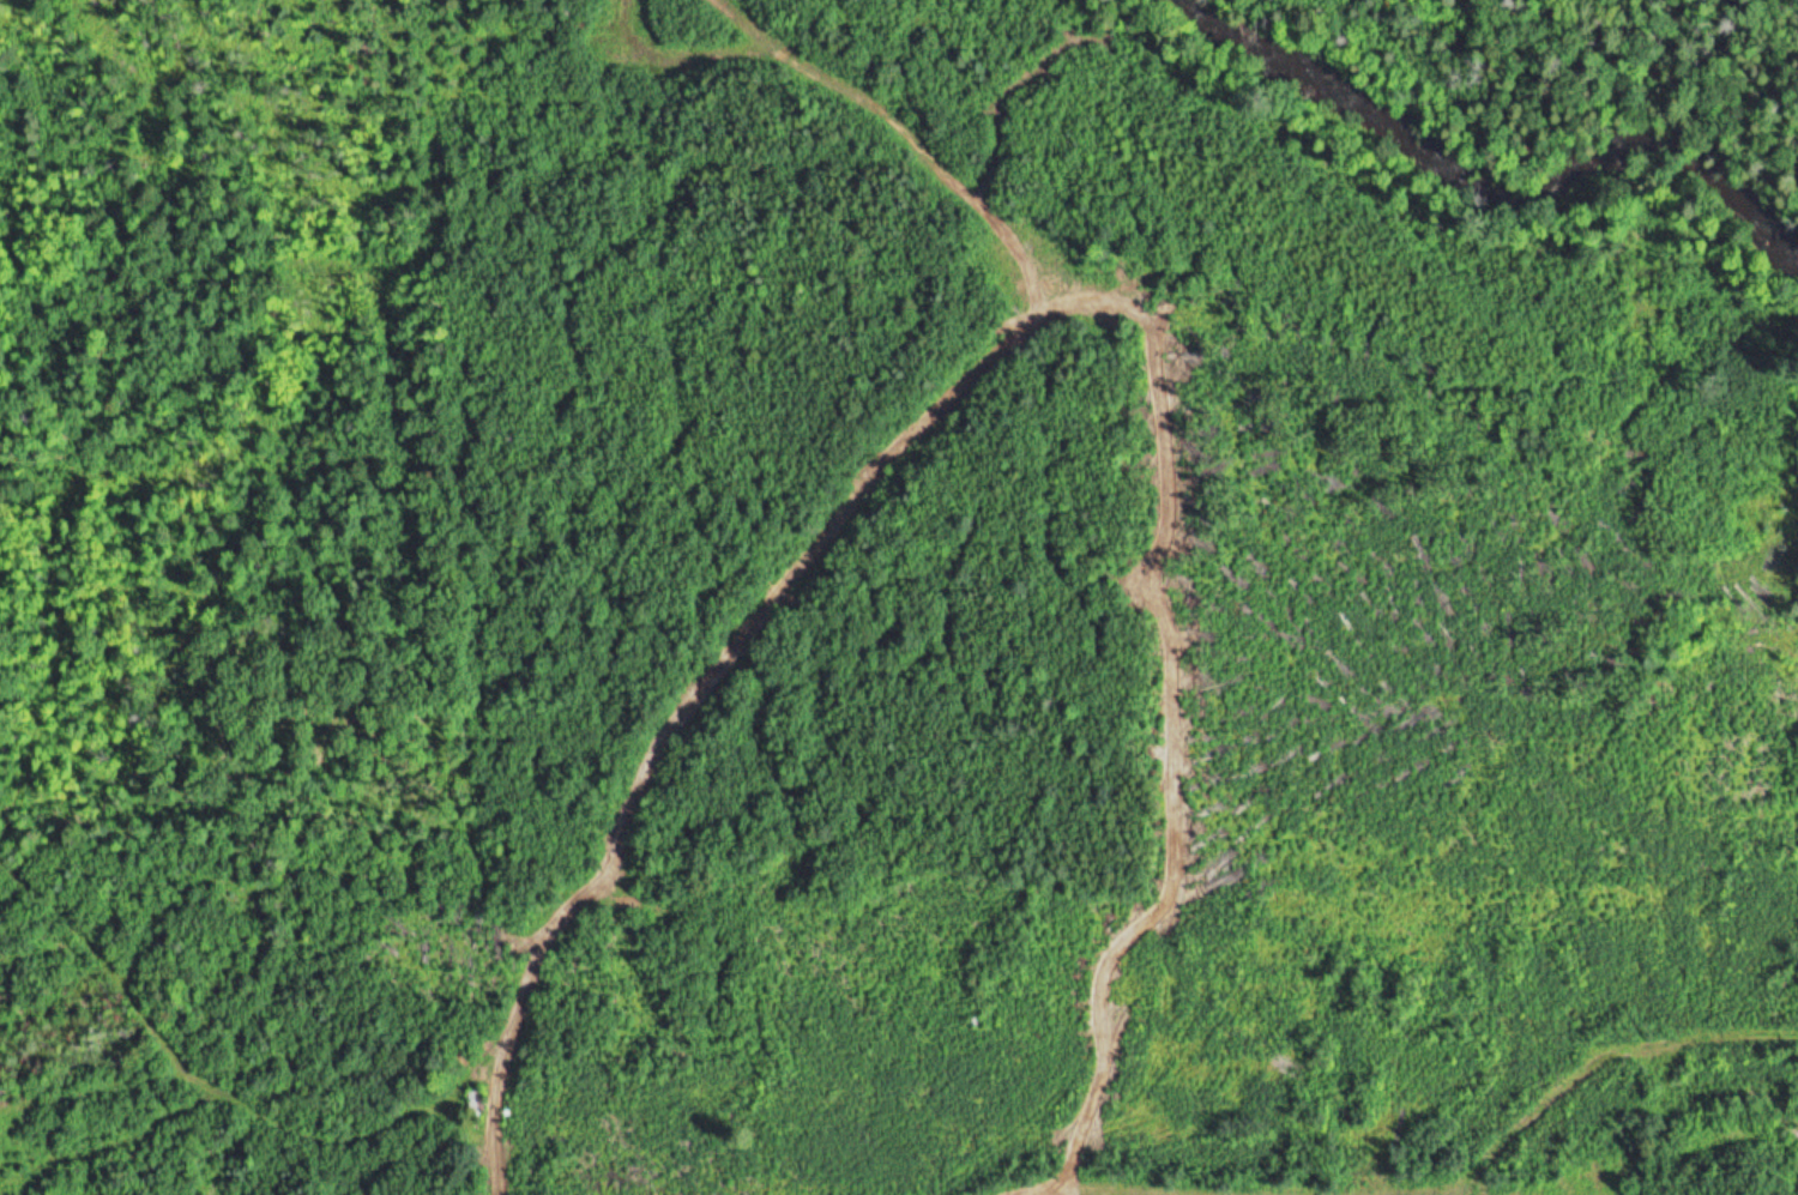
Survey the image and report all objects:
river: (1498, 195)
building: (477, 1100)

